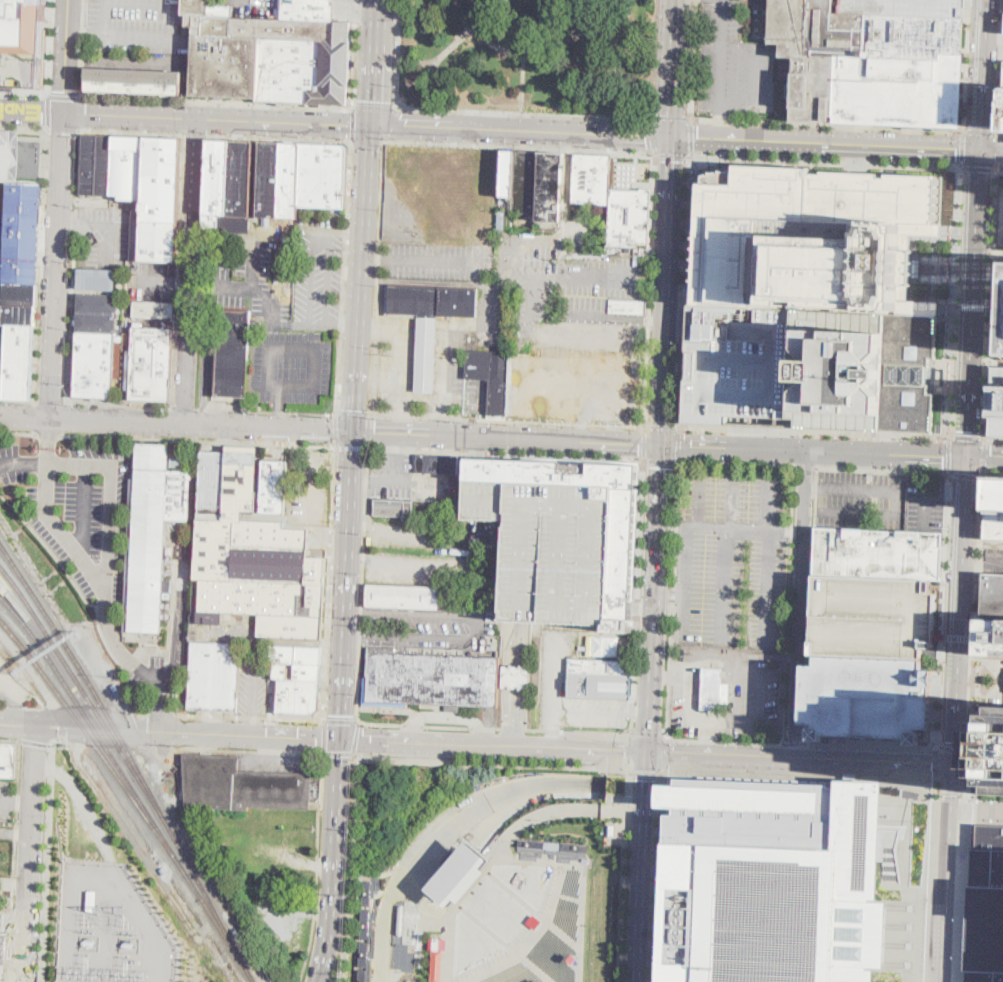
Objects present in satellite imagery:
building: (906, 7)
parking lot: (906, 7)
parking lot: (136, 24)
building: (816, 28)
road: (87, 36)
building: (915, 36)
road: (176, 40)
building: (23, 42)
parking garage: (23, 42)
road: (455, 44)
road: (49, 47)
road: (81, 48)
road: (525, 49)
road: (595, 50)
road: (354, 52)
building: (271, 53)
road: (397, 53)
park: (531, 54)
road: (67, 56)
road: (652, 56)
road: (721, 56)
road: (78, 59)
road: (695, 59)
parking lot: (735, 59)
road: (137, 62)
road: (371, 62)
road: (45, 66)
road: (966, 66)
road: (677, 69)
road: (984, 75)
road: (1000, 77)
building: (134, 81)
road: (522, 81)
road: (432, 85)
building: (813, 88)
building: (897, 90)
road: (755, 91)
road: (23, 93)
road: (64, 95)
road: (621, 97)
traffic signals: (370, 100)
road: (217, 102)
road: (375, 106)
road: (32, 112)
road: (47, 112)
road: (522, 112)
building: (1002, 112)
road: (81, 113)
road: (670, 116)
road: (217, 118)
traffic signals: (347, 124)
road: (352, 124)
road: (390, 125)
road: (828, 125)
traffic signals: (982, 125)
road: (23, 127)
road: (721, 127)
traffic signals: (399, 128)
road: (63, 129)
road: (132, 132)
road: (521, 132)
road: (981, 132)
road: (651, 133)
road: (195, 134)
road: (1000, 134)
road: (693, 137)
road: (22, 138)
traffic signals: (646, 138)
road: (279, 139)
traffic signals: (698, 140)
road: (368, 143)
road: (827, 145)
road: (520, 147)
road: (964, 150)
traffic signals: (956, 151)
road: (1000, 151)
road: (992, 152)
road: (674, 154)
building: (3, 156)
building: (409, 159)
traffic signals: (673, 160)
road: (828, 162)
building: (88, 163)
building: (104, 163)
road: (980, 170)
road: (1001, 170)
building: (507, 174)
building: (323, 175)
building: (218, 177)
building: (240, 177)
building: (268, 179)
building: (592, 179)
building: (289, 180)
building: (526, 183)
building: (254, 185)
building: (150, 188)
building: (550, 191)
building: (630, 218)
building: (227, 221)
building: (267, 221)
road: (322, 229)
road: (347, 231)
building: (22, 233)
parking lot: (104, 234)
building: (811, 239)
road: (564, 241)
road: (999, 253)
road: (419, 260)
parking lot: (437, 262)
road: (40, 265)
road: (58, 265)
road: (74, 267)
road: (252, 268)
road: (190, 270)
road: (178, 271)
parking lot: (319, 271)
road: (311, 276)
road: (328, 277)
building: (96, 278)
road: (343, 278)
road: (362, 278)
road: (376, 279)
parking lot: (153, 280)
parking lot: (568, 280)
parking lot: (250, 281)
road: (650, 289)
road: (667, 291)
road: (686, 291)
building: (19, 293)
road: (265, 300)
building: (97, 302)
road: (956, 302)
road: (974, 304)
road: (992, 304)
building: (628, 307)
road: (974, 307)
building: (153, 310)
building: (18, 314)
road: (581, 315)
building: (96, 321)
building: (430, 321)
road: (317, 324)
road: (342, 326)
road: (305, 346)
building: (1002, 347)
road: (205, 352)
building: (233, 353)
parking lot: (395, 360)
building: (19, 361)
road: (995, 361)
building: (94, 363)
building: (150, 363)
parking lot: (292, 366)
building: (810, 368)
parking lot: (450, 372)
building: (491, 376)
building: (943, 376)
road: (280, 399)
road: (17, 402)
road: (51, 403)
building: (996, 403)
road: (120, 406)
road: (185, 409)
traffic signals: (357, 409)
road: (267, 412)
road: (353, 414)
road: (26, 416)
road: (65, 419)
road: (507, 421)
road: (203, 423)
road: (662, 425)
traffic signals: (331, 429)
road: (336, 430)
traffic signals: (969, 430)
road: (368, 431)
traffic signals: (375, 431)
road: (815, 431)
road: (19, 434)
road: (44, 435)
road: (508, 437)
road: (968, 438)
road: (994, 439)
road: (200, 441)
road: (645, 442)
traffic signals: (639, 443)
road: (679, 445)
traffic signals: (685, 445)
road: (351, 447)
road: (478, 447)
road: (814, 450)
road: (505, 453)
road: (949, 454)
traffic signals: (943, 456)
road: (984, 457)
road: (133, 458)
road: (984, 458)
traffic signals: (991, 458)
road: (661, 461)
road: (737, 463)
building: (437, 464)
traffic signals: (660, 466)
road: (806, 467)
road: (883, 469)
road: (110, 471)
road: (992, 473)
road: (966, 475)
building: (937, 478)
parking lot: (406, 479)
building: (274, 486)
parking lot: (311, 490)
road: (192, 492)
parking lot: (735, 494)
parking lot: (861, 500)
parking lot: (925, 504)
building: (417, 509)
parking lot: (79, 510)
road: (85, 510)
building: (994, 511)
road: (181, 523)
road: (732, 527)
road: (641, 530)
building: (151, 533)
road: (171, 533)
road: (357, 535)
road: (420, 537)
road: (180, 543)
building: (624, 546)
road: (962, 546)
building: (552, 549)
parking lot: (552, 549)
parking lot: (432, 552)
building: (876, 552)
building: (253, 556)
road: (84, 558)
road: (356, 565)
road: (420, 569)
road: (330, 583)
road: (361, 583)
parking lot: (731, 583)
road: (349, 585)
railway: (10, 586)
building: (404, 596)
road: (654, 598)
road: (675, 599)
road: (802, 603)
road: (172, 604)
road: (788, 604)
road: (632, 606)
road: (98, 607)
road: (637, 607)
road: (943, 612)
road: (354, 613)
building: (992, 614)
parking lot: (442, 616)
building: (869, 616)
parking lot: (869, 616)
road: (976, 618)
road: (125, 625)
road: (178, 625)
road: (478, 629)
road: (353, 633)
road: (959, 636)
parking lot: (423, 638)
building: (603, 645)
road: (53, 651)
road: (146, 654)
building: (600, 664)
road: (634, 674)
building: (517, 675)
building: (214, 676)
parking lot: (554, 676)
road: (988, 676)
building: (431, 678)
building: (297, 679)
road: (520, 684)
building: (599, 684)
parking lot: (254, 686)
railway: (93, 688)
building: (714, 690)
parking lot: (728, 691)
building: (866, 697)
parking garage: (866, 697)
road: (18, 699)
road: (956, 699)
railway: (90, 701)
road: (161, 705)
road: (555, 709)
road: (162, 713)
road: (637, 713)
traffic signals: (343, 714)
road: (446, 714)
road: (251, 717)
road: (342, 720)
road: (800, 720)
road: (1, 721)
road: (381, 723)
road: (941, 724)
road: (412, 725)
road: (446, 726)
road: (483, 727)
road: (498, 727)
road: (513, 728)
road: (171, 730)
road: (554, 730)
road: (578, 731)
road: (324, 735)
road: (355, 736)
road: (649, 737)
road: (9, 738)
traffic signals: (317, 738)
road: (20, 740)
traffic signals: (364, 740)
road: (724, 740)
road: (34, 741)
traffic signals: (955, 741)
railway: (103, 743)
road: (793, 743)
road: (494, 745)
road: (940, 745)
road: (630, 746)
road: (871, 746)
road: (953, 747)
building: (989, 748)
road: (250, 750)
traffic signals: (626, 750)
road: (668, 750)
traffic signals: (673, 751)
road: (966, 751)
road: (338, 752)
railway: (103, 755)
road: (800, 756)
road: (493, 760)
building: (8, 761)
traffic signals: (933, 761)
road: (938, 762)
road: (645, 771)
road: (969, 772)
road: (795, 777)
road: (963, 777)
traffic signals: (646, 778)
building: (242, 785)
road: (936, 792)
road: (950, 792)
road: (964, 792)
road: (967, 797)
road: (85, 802)
road: (977, 807)
road: (614, 808)
road: (538, 816)
road: (78, 822)
road: (441, 831)
road: (15, 833)
building: (553, 844)
road: (552, 849)
road: (552, 850)
road: (30, 852)
road: (522, 854)
road: (559, 856)
road: (551, 857)
road: (47, 860)
road: (14, 861)
road: (334, 861)
road: (642, 866)
road: (317, 867)
road: (351, 867)
road: (625, 869)
road: (949, 871)
road: (662, 872)
building: (460, 873)
road: (928, 878)
road: (502, 883)
building: (775, 883)
building: (367, 892)
road: (963, 894)
road: (570, 896)
parking lot: (985, 899)
building: (92, 900)
building: (985, 905)
road: (460, 907)
power tower: (111, 909)
railway: (216, 911)
building: (401, 912)
road: (583, 913)
building: (534, 920)
building: (365, 922)
power substation: (112, 928)
road: (534, 938)
railway: (228, 939)
building: (3, 945)
building: (399, 946)
building: (364, 952)
building: (573, 958)
building: (437, 960)
building: (216, 962)
road: (536, 968)
building: (399, 971)
building: (363, 975)
building: (543, 981)

